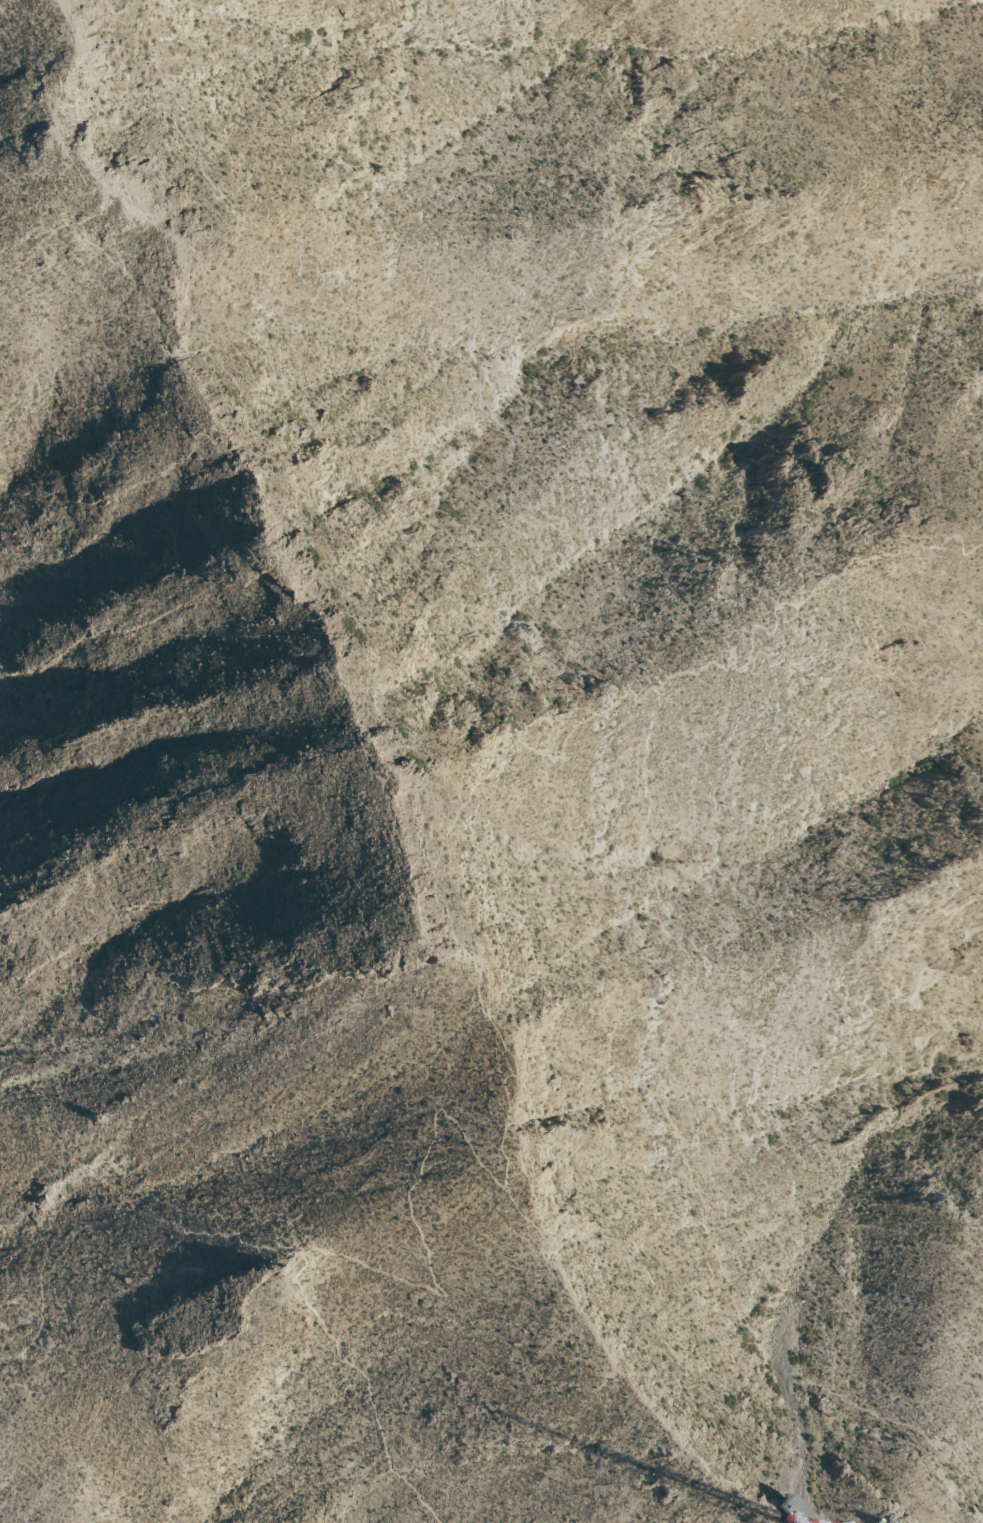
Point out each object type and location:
road: (790, 603)
road: (499, 748)

